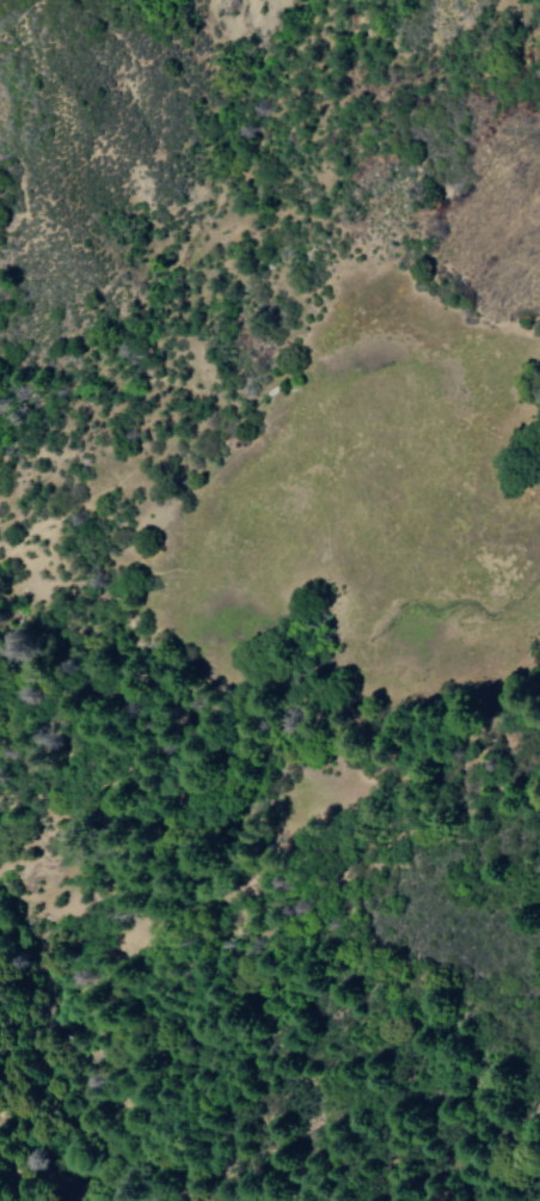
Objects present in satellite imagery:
road: (0, 1200)

